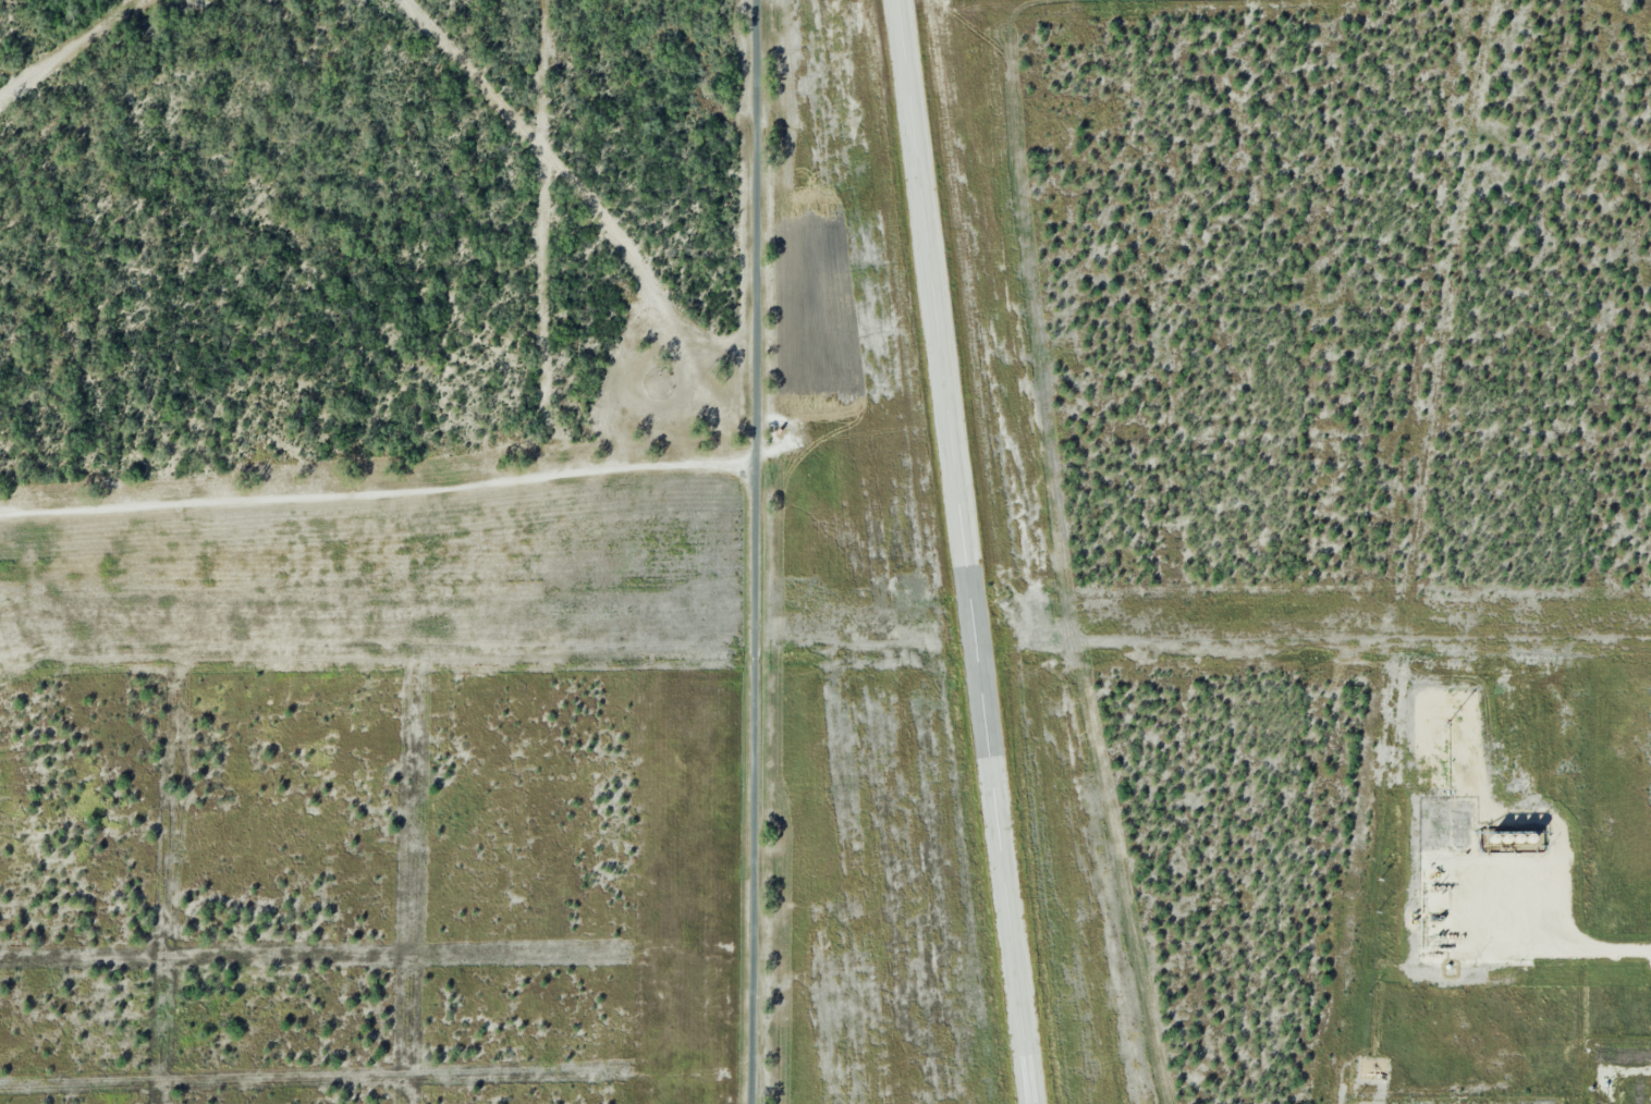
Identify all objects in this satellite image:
road: (753, 551)
airport runway: (966, 552)

